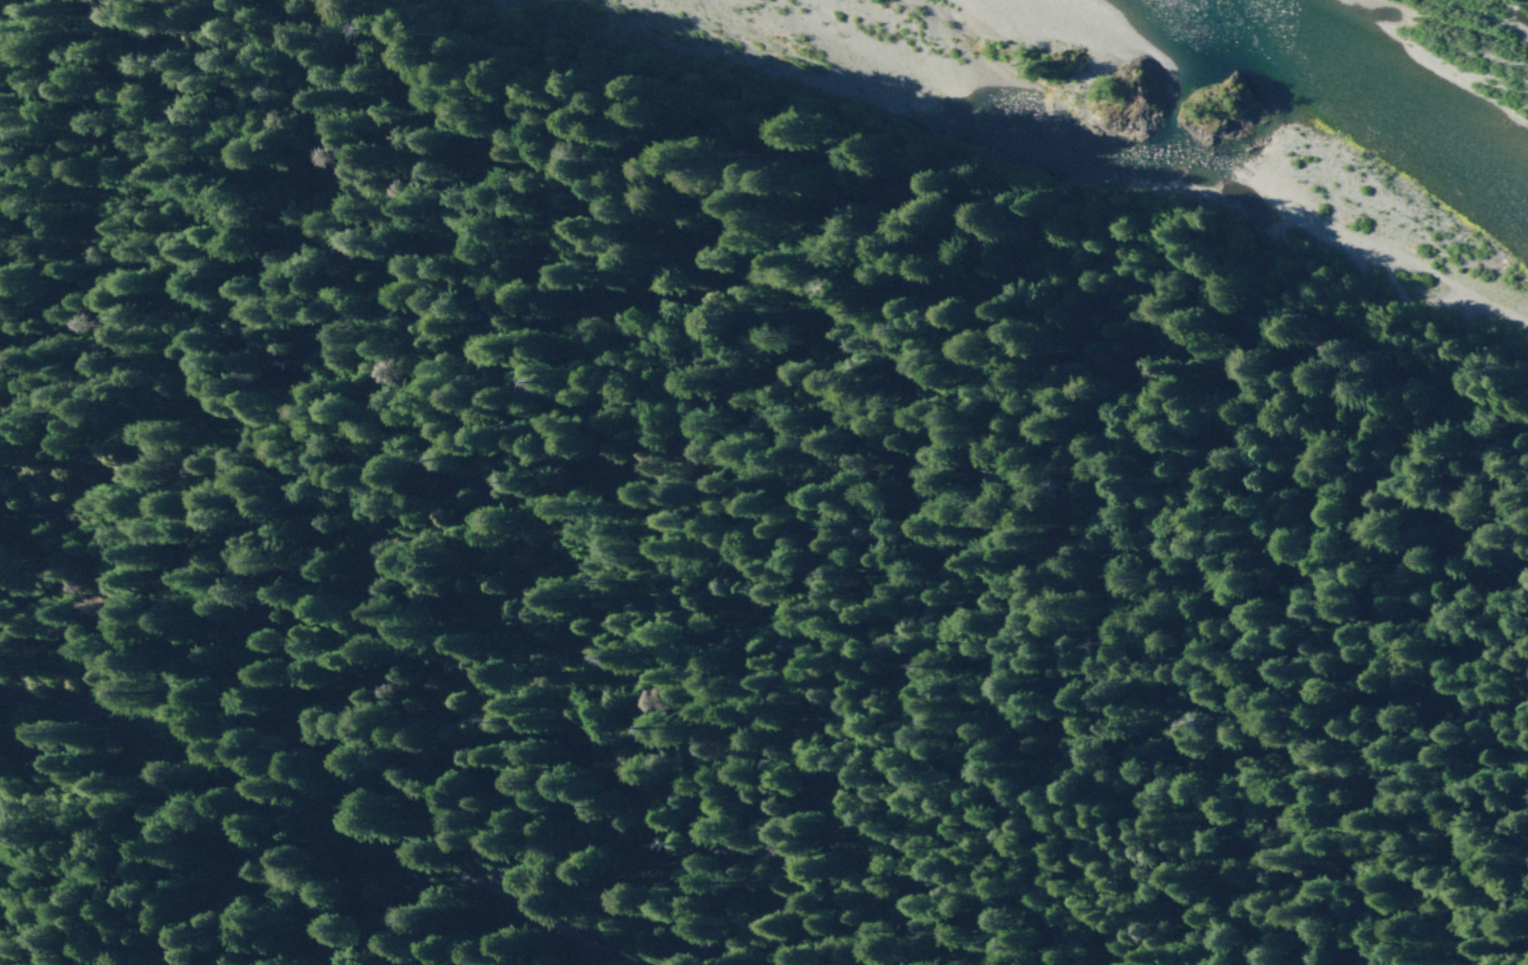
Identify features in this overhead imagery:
river: (1391, 73)
road: (297, 833)
road: (61, 912)

